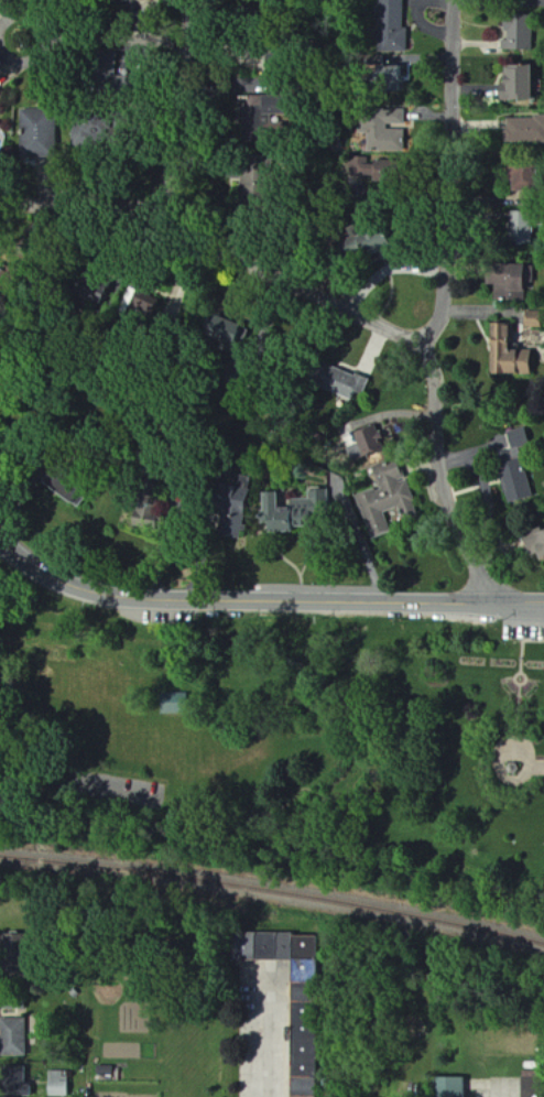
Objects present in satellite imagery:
building: (393, 25)
building: (516, 32)
road: (108, 39)
building: (396, 78)
building: (514, 83)
building: (262, 105)
road: (182, 107)
building: (385, 129)
building: (42, 133)
building: (365, 166)
building: (520, 178)
building: (520, 230)
road: (221, 248)
building: (503, 278)
building: (150, 305)
road: (446, 308)
building: (533, 319)
building: (505, 351)
building: (346, 382)
building: (518, 438)
building: (368, 439)
building: (514, 482)
building: (385, 499)
building: (293, 510)
building: (236, 512)
building: (534, 544)
road: (264, 601)
park: (278, 747)
road: (36, 781)
railway: (273, 893)
building: (19, 949)
building: (15, 1000)
building: (304, 1029)
building: (15, 1038)
road: (263, 1038)
building: (106, 1072)
building: (15, 1080)
building: (57, 1084)
building: (448, 1087)
building: (526, 1087)

